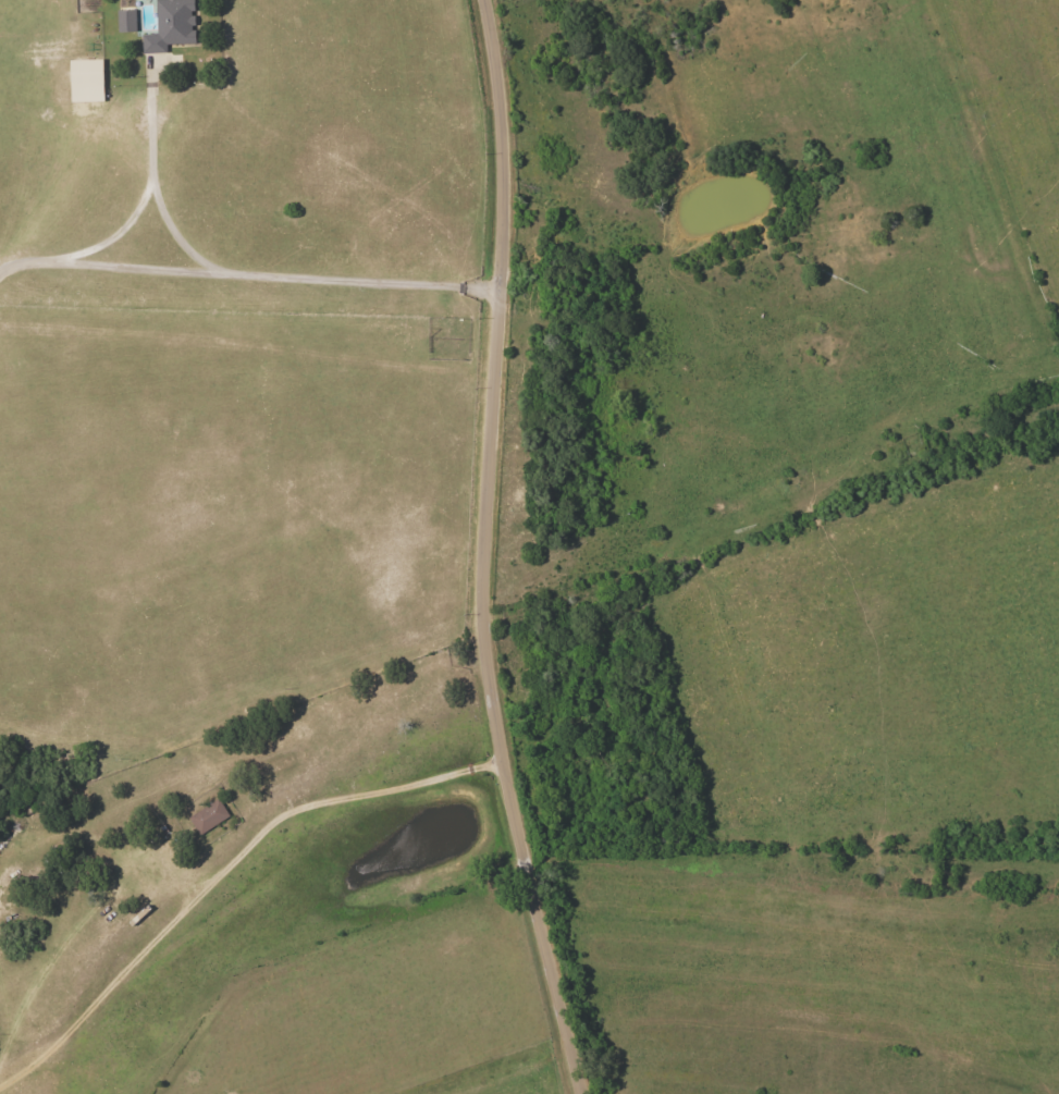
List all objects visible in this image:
building: (125, 21)
building: (170, 26)
building: (85, 81)
road: (158, 197)
road: (114, 236)
road: (248, 280)
road: (484, 551)
building: (208, 816)
road: (221, 874)

